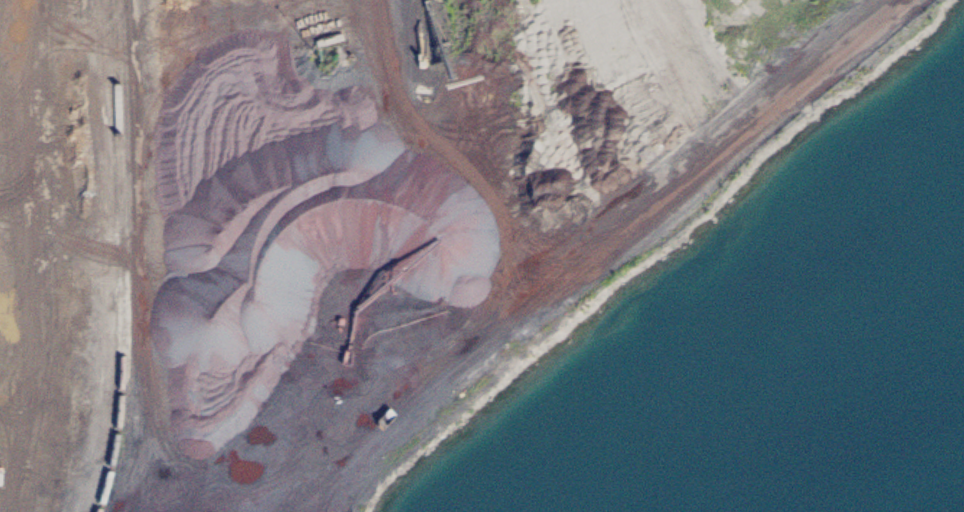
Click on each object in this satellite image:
railway: (121, 257)

